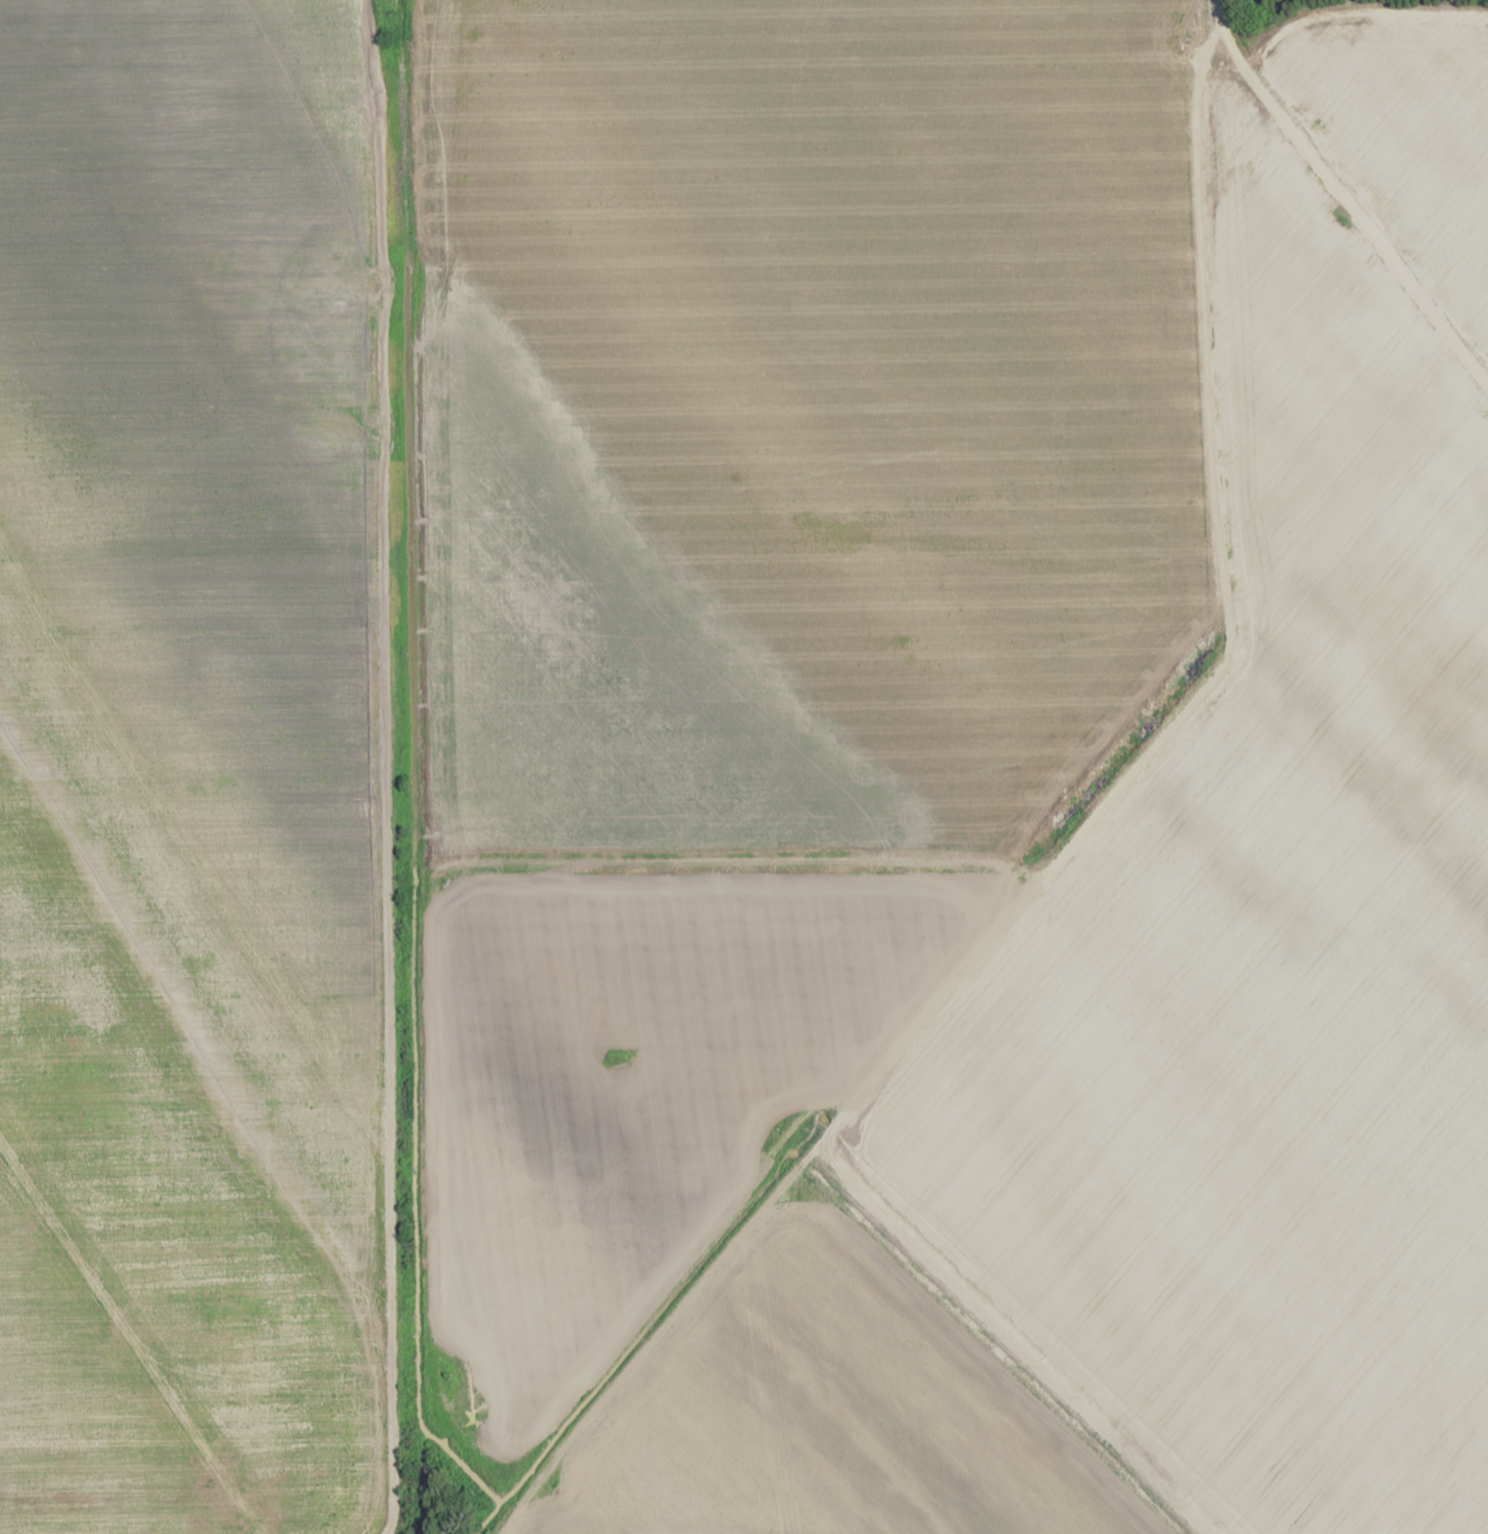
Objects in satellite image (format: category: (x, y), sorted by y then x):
road: (1343, 197)
road: (1201, 298)
road: (265, 319)

